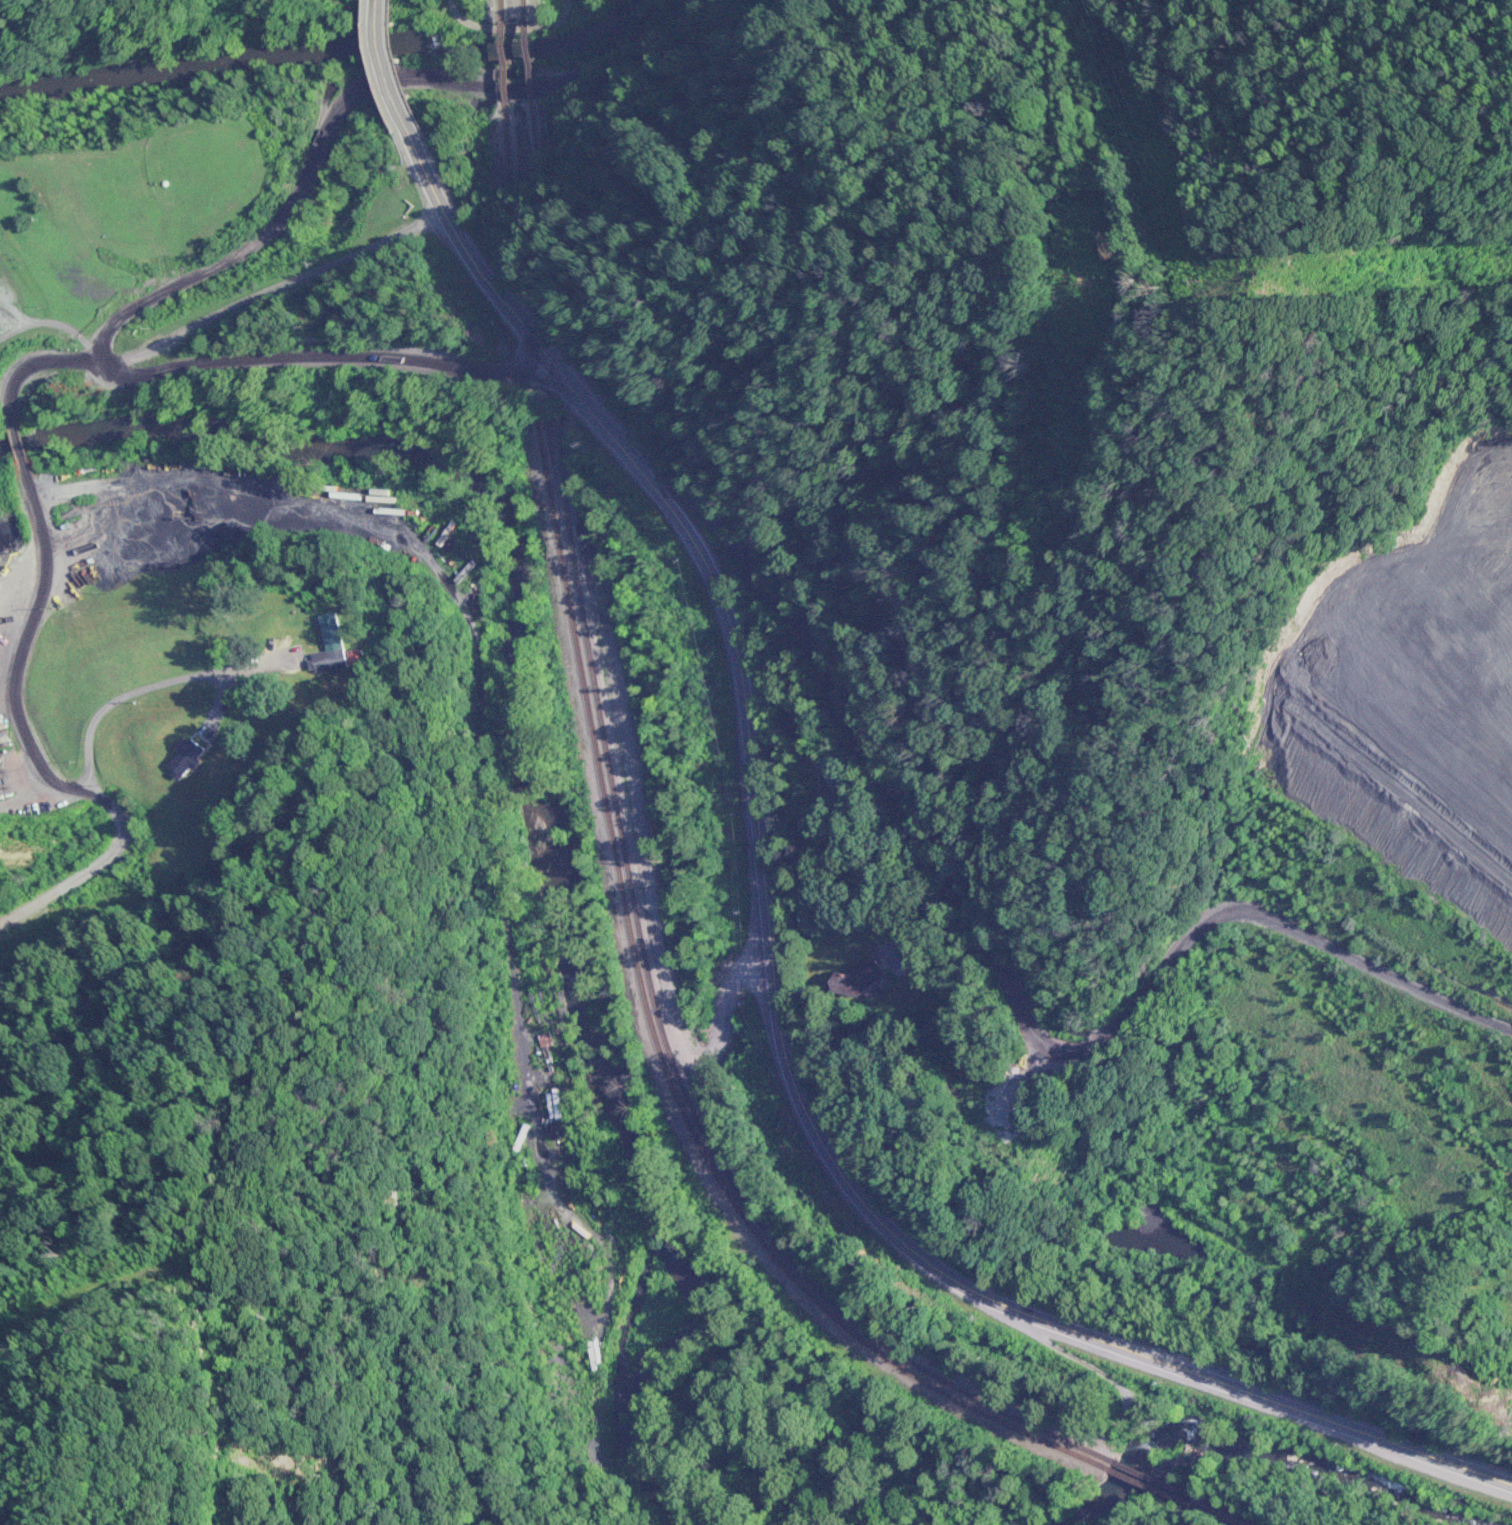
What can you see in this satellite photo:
road: (375, 1)
road: (566, 5)
railway: (523, 10)
railway: (498, 11)
road: (659, 25)
road: (504, 28)
river: (331, 48)
railway: (525, 60)
railway: (502, 62)
road: (385, 71)
railway: (530, 140)
railway: (510, 142)
building: (4, 216)
road: (240, 371)
road: (208, 460)
building: (76, 473)
building: (274, 636)
road: (24, 638)
building: (330, 657)
road: (181, 680)
road: (60, 692)
quarry: (1407, 733)
road: (34, 742)
building: (186, 757)
river: (528, 774)
building: (857, 979)
road: (777, 984)
railway: (680, 1110)
railway: (693, 1115)
road: (1147, 1226)
quarry: (1497, 1271)

